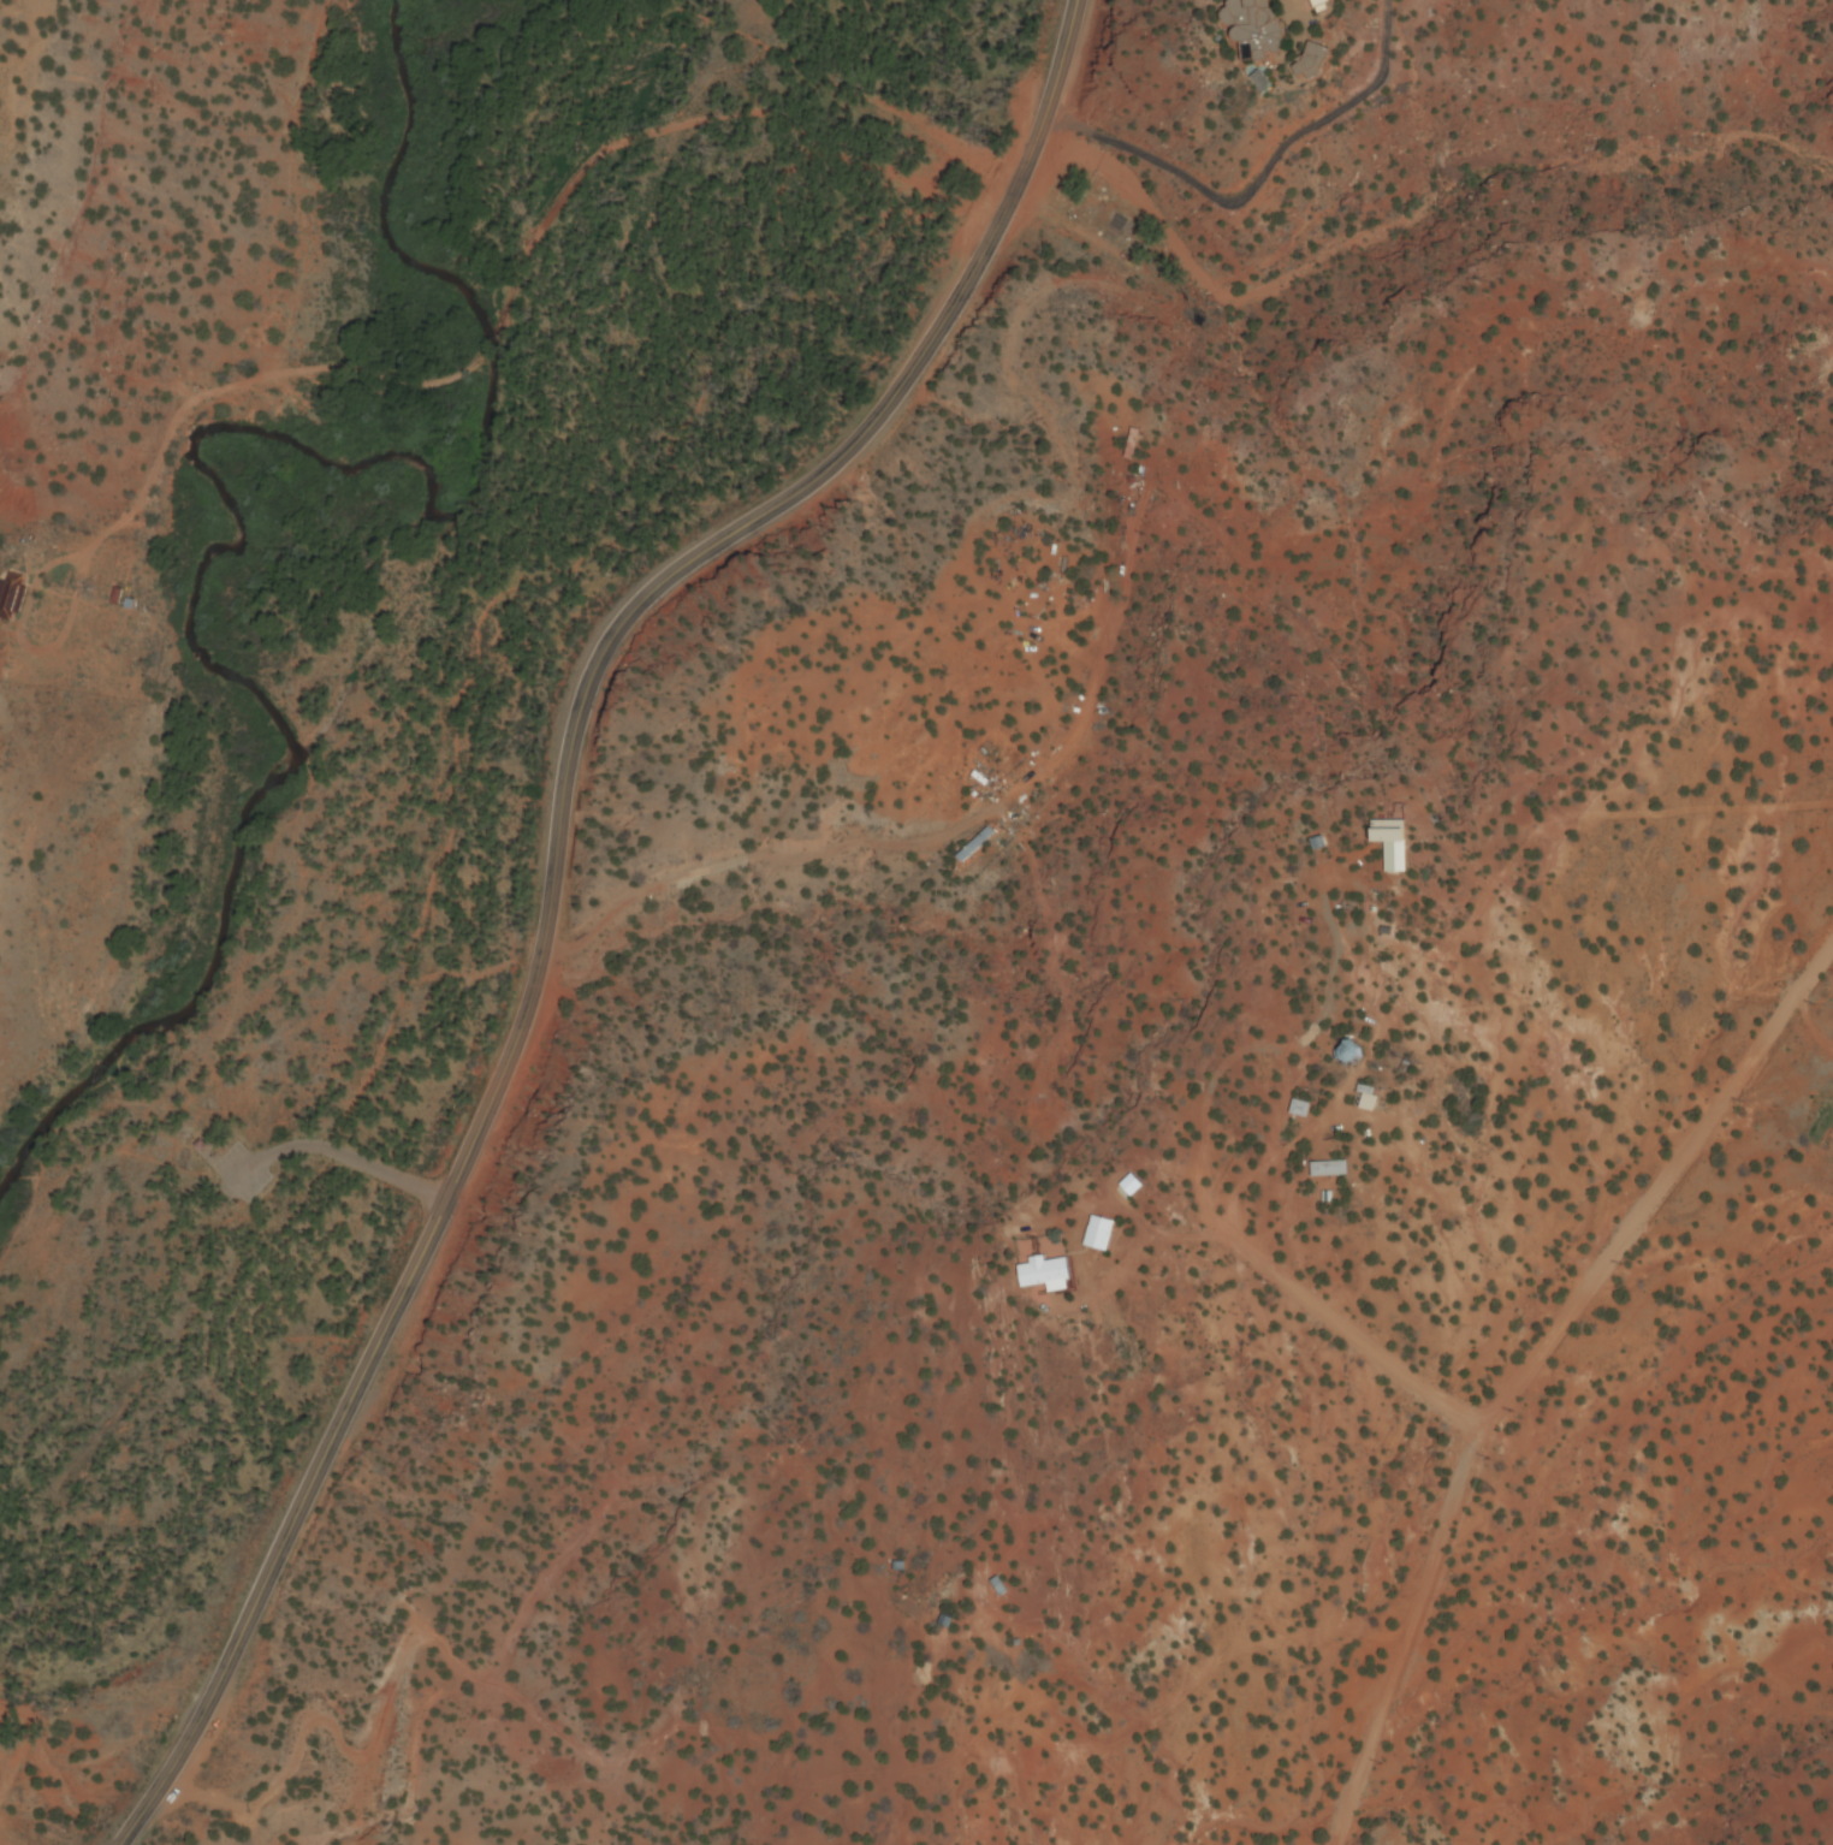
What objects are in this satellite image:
building: (1316, 5)
building: (1256, 28)
building: (1316, 61)
building: (1133, 444)
building: (1485, 515)
building: (12, 598)
road: (941, 827)
building: (1392, 833)
building: (978, 847)
road: (552, 877)
building: (1351, 1055)
building: (1300, 1110)
building: (1329, 1170)
building: (1098, 1239)
building: (1044, 1271)
road: (1343, 1327)
road: (1527, 1363)
building: (997, 1588)
building: (945, 1622)
road: (407, 1638)

